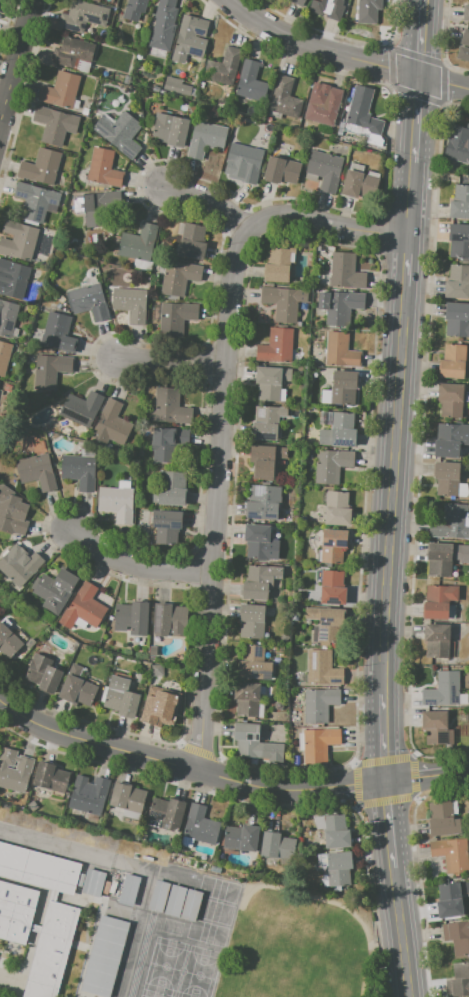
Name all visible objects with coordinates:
building: (298, 2)
building: (327, 8)
building: (134, 9)
building: (368, 11)
building: (466, 12)
building: (82, 15)
building: (164, 25)
building: (465, 37)
building: (190, 38)
road: (318, 48)
building: (73, 52)
building: (463, 53)
road: (15, 57)
building: (222, 67)
traffic signals: (419, 74)
road: (444, 80)
building: (250, 81)
building: (176, 86)
building: (60, 90)
building: (285, 98)
building: (325, 107)
building: (362, 111)
building: (55, 124)
building: (170, 129)
building: (119, 132)
building: (206, 139)
building: (458, 149)
building: (245, 161)
building: (41, 167)
building: (103, 169)
building: (325, 169)
building: (281, 170)
building: (359, 182)
road: (210, 196)
building: (34, 200)
building: (460, 202)
building: (96, 205)
building: (18, 240)
building: (191, 240)
building: (459, 240)
building: (138, 243)
building: (277, 264)
building: (342, 272)
building: (178, 277)
building: (14, 278)
building: (457, 281)
building: (89, 301)
building: (284, 301)
building: (130, 303)
building: (339, 306)
building: (7, 317)
building: (175, 318)
building: (457, 318)
building: (58, 333)
building: (276, 346)
building: (341, 351)
building: (4, 355)
road: (170, 360)
building: (453, 361)
building: (51, 369)
building: (271, 382)
building: (343, 387)
building: (451, 400)
building: (81, 408)
building: (169, 408)
road: (222, 415)
building: (268, 421)
building: (112, 423)
building: (339, 431)
building: (450, 439)
building: (168, 443)
building: (266, 460)
building: (331, 465)
building: (37, 471)
building: (79, 471)
building: (446, 478)
building: (169, 489)
road: (393, 498)
building: (262, 502)
building: (117, 503)
building: (337, 508)
building: (12, 512)
building: (451, 522)
building: (166, 525)
building: (257, 540)
building: (333, 545)
building: (445, 557)
building: (19, 566)
road: (134, 566)
building: (260, 581)
building: (332, 587)
building: (55, 590)
building: (439, 601)
building: (83, 607)
building: (132, 618)
building: (168, 620)
building: (252, 620)
building: (326, 623)
building: (436, 640)
building: (8, 641)
building: (30, 642)
building: (254, 663)
building: (322, 668)
building: (157, 670)
building: (43, 673)
building: (77, 687)
building: (443, 689)
building: (121, 697)
building: (247, 699)
building: (319, 704)
building: (160, 708)
building: (435, 727)
building: (248, 741)
building: (319, 744)
road: (153, 759)
building: (14, 770)
road: (463, 772)
building: (51, 776)
road: (421, 777)
traffic signals: (386, 782)
road: (351, 785)
building: (89, 796)
building: (127, 799)
building: (165, 813)
building: (442, 819)
building: (200, 825)
building: (335, 831)
building: (240, 839)
road: (54, 844)
building: (276, 845)
building: (451, 854)
building: (37, 868)
building: (339, 868)
building: (80, 880)
building: (93, 882)
building: (106, 887)
park: (218, 888)
building: (129, 889)
building: (157, 895)
building: (173, 900)
building: (449, 900)
building: (190, 904)
building: (16, 910)
park: (211, 910)
park: (206, 932)
building: (457, 935)
park: (300, 946)
building: (50, 950)
building: (104, 956)
track: (140, 956)
park: (163, 965)
park: (180, 970)
park: (197, 972)
building: (458, 980)
park: (151, 993)
park: (143, 996)

